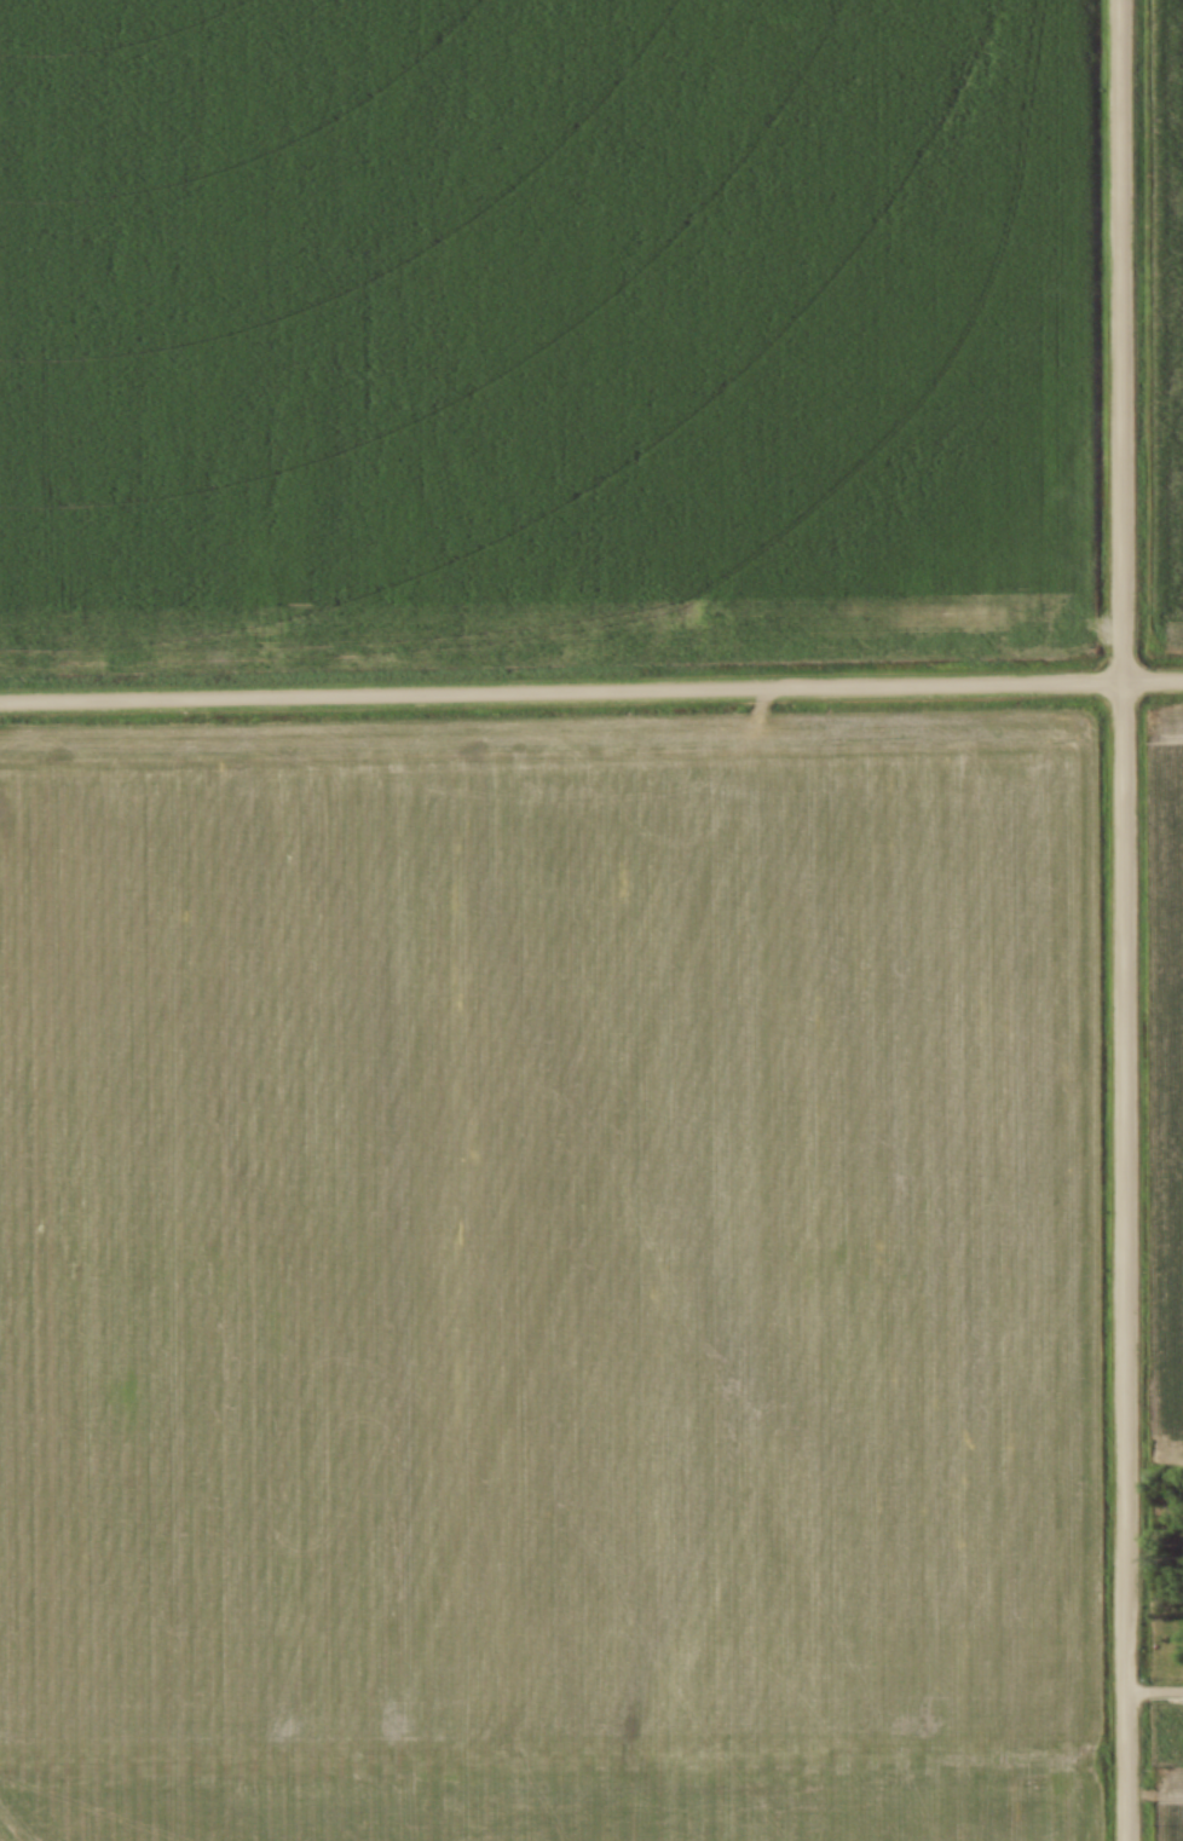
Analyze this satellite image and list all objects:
crop: (1166, 323)
crop: (543, 329)
road: (590, 692)
road: (1123, 919)
crop: (1166, 1069)
crop: (546, 1294)
road: (1153, 1692)
crop: (1166, 1804)

